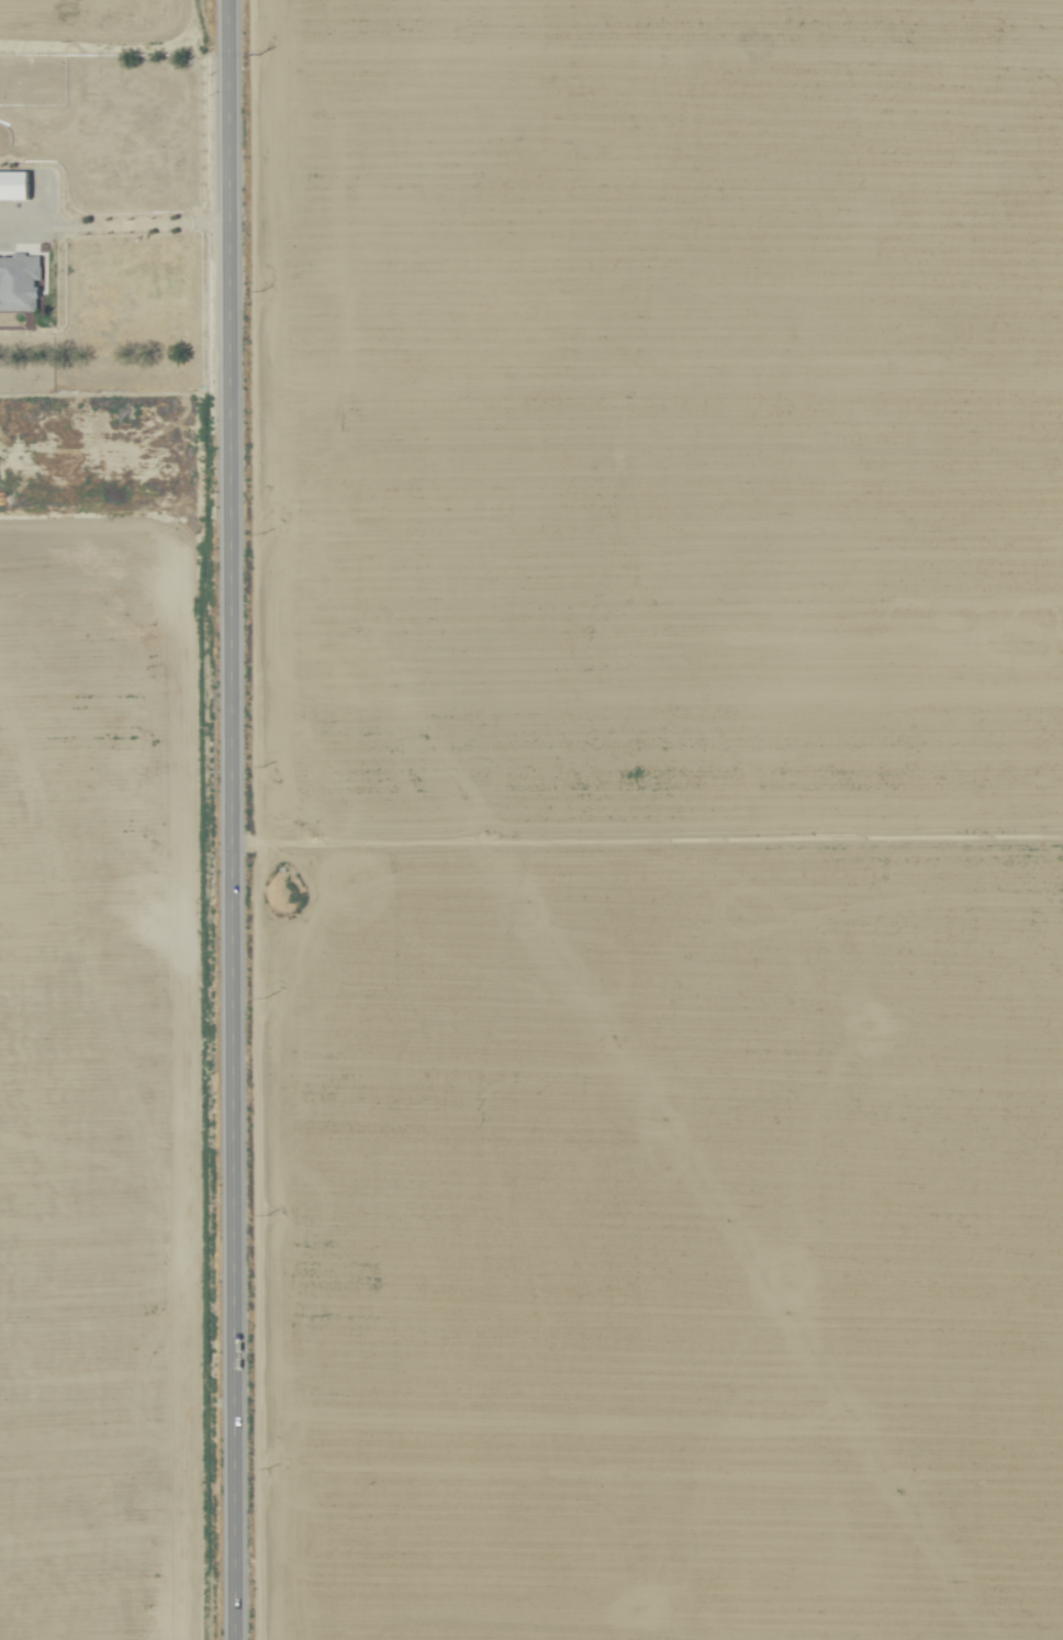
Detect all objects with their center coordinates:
building: (14, 186)
road: (118, 234)
building: (19, 283)
road: (118, 491)
road: (237, 819)
road: (120, 1471)

